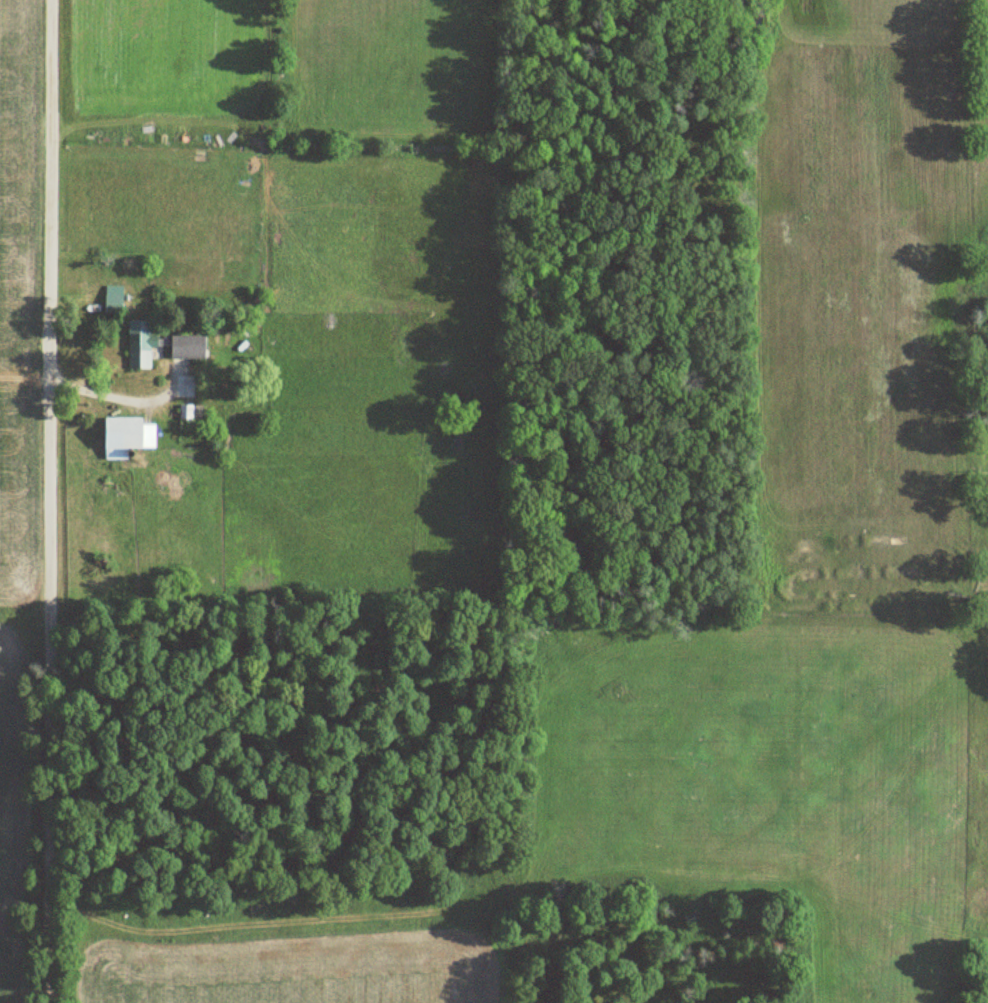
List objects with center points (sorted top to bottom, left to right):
building: (114, 303)
building: (142, 344)
building: (192, 347)
road: (120, 397)
building: (126, 437)
road: (51, 501)

